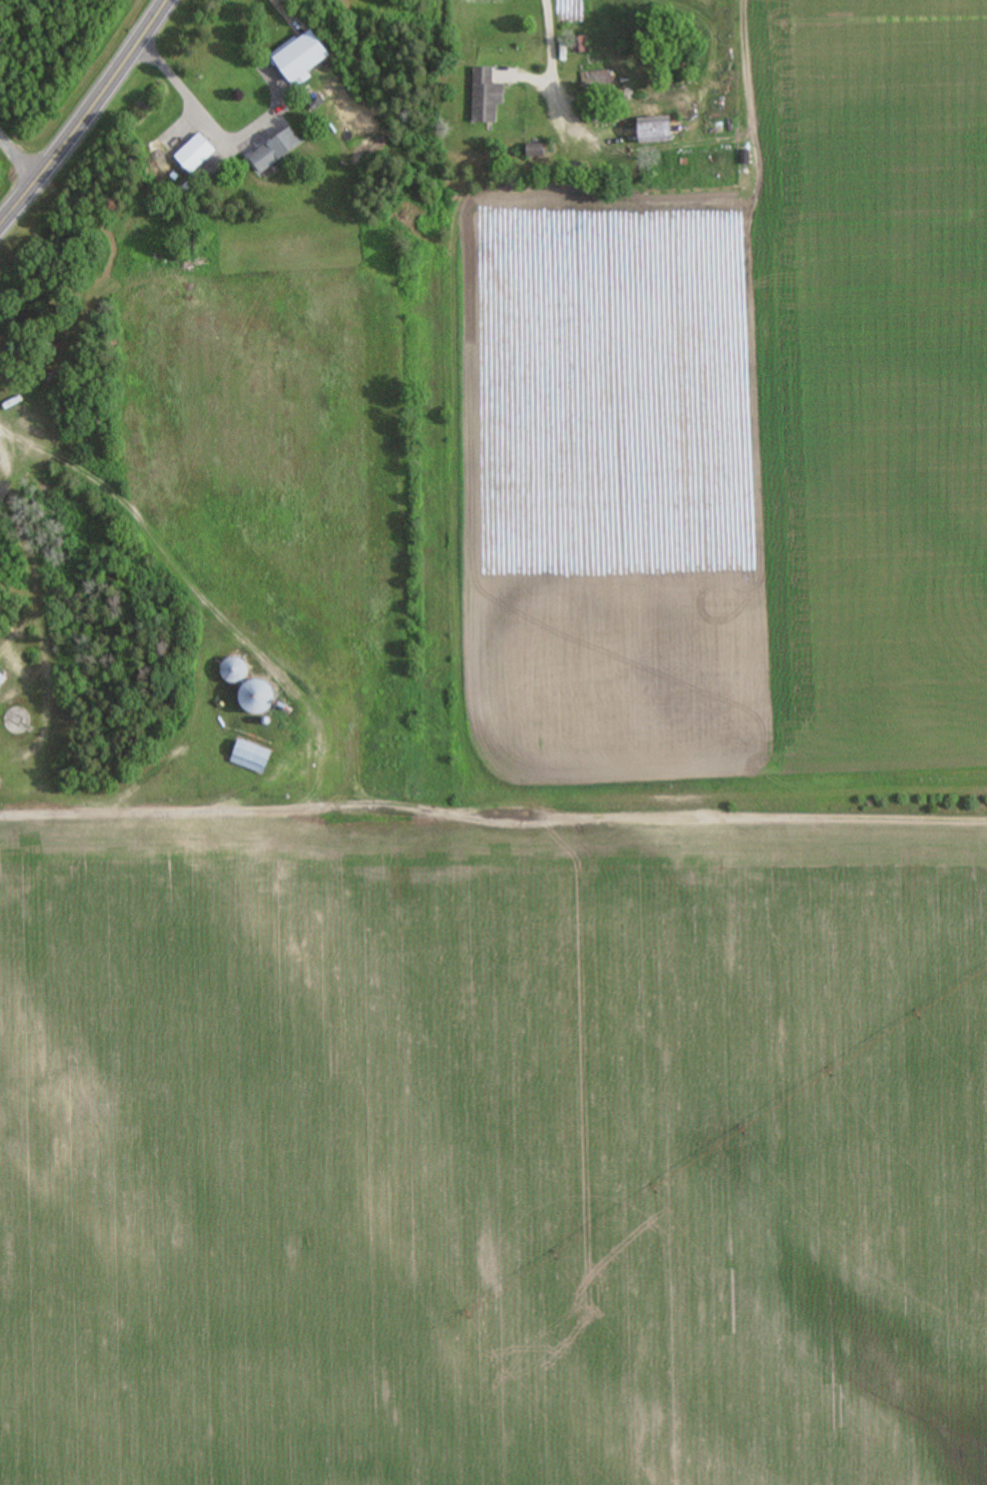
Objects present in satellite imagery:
road: (549, 55)
building: (486, 96)
road: (187, 103)
road: (87, 117)
road: (22, 131)
building: (655, 137)
building: (276, 150)
building: (536, 151)
building: (196, 154)
building: (233, 670)
building: (1, 679)
building: (257, 699)
building: (250, 757)
road: (425, 805)

